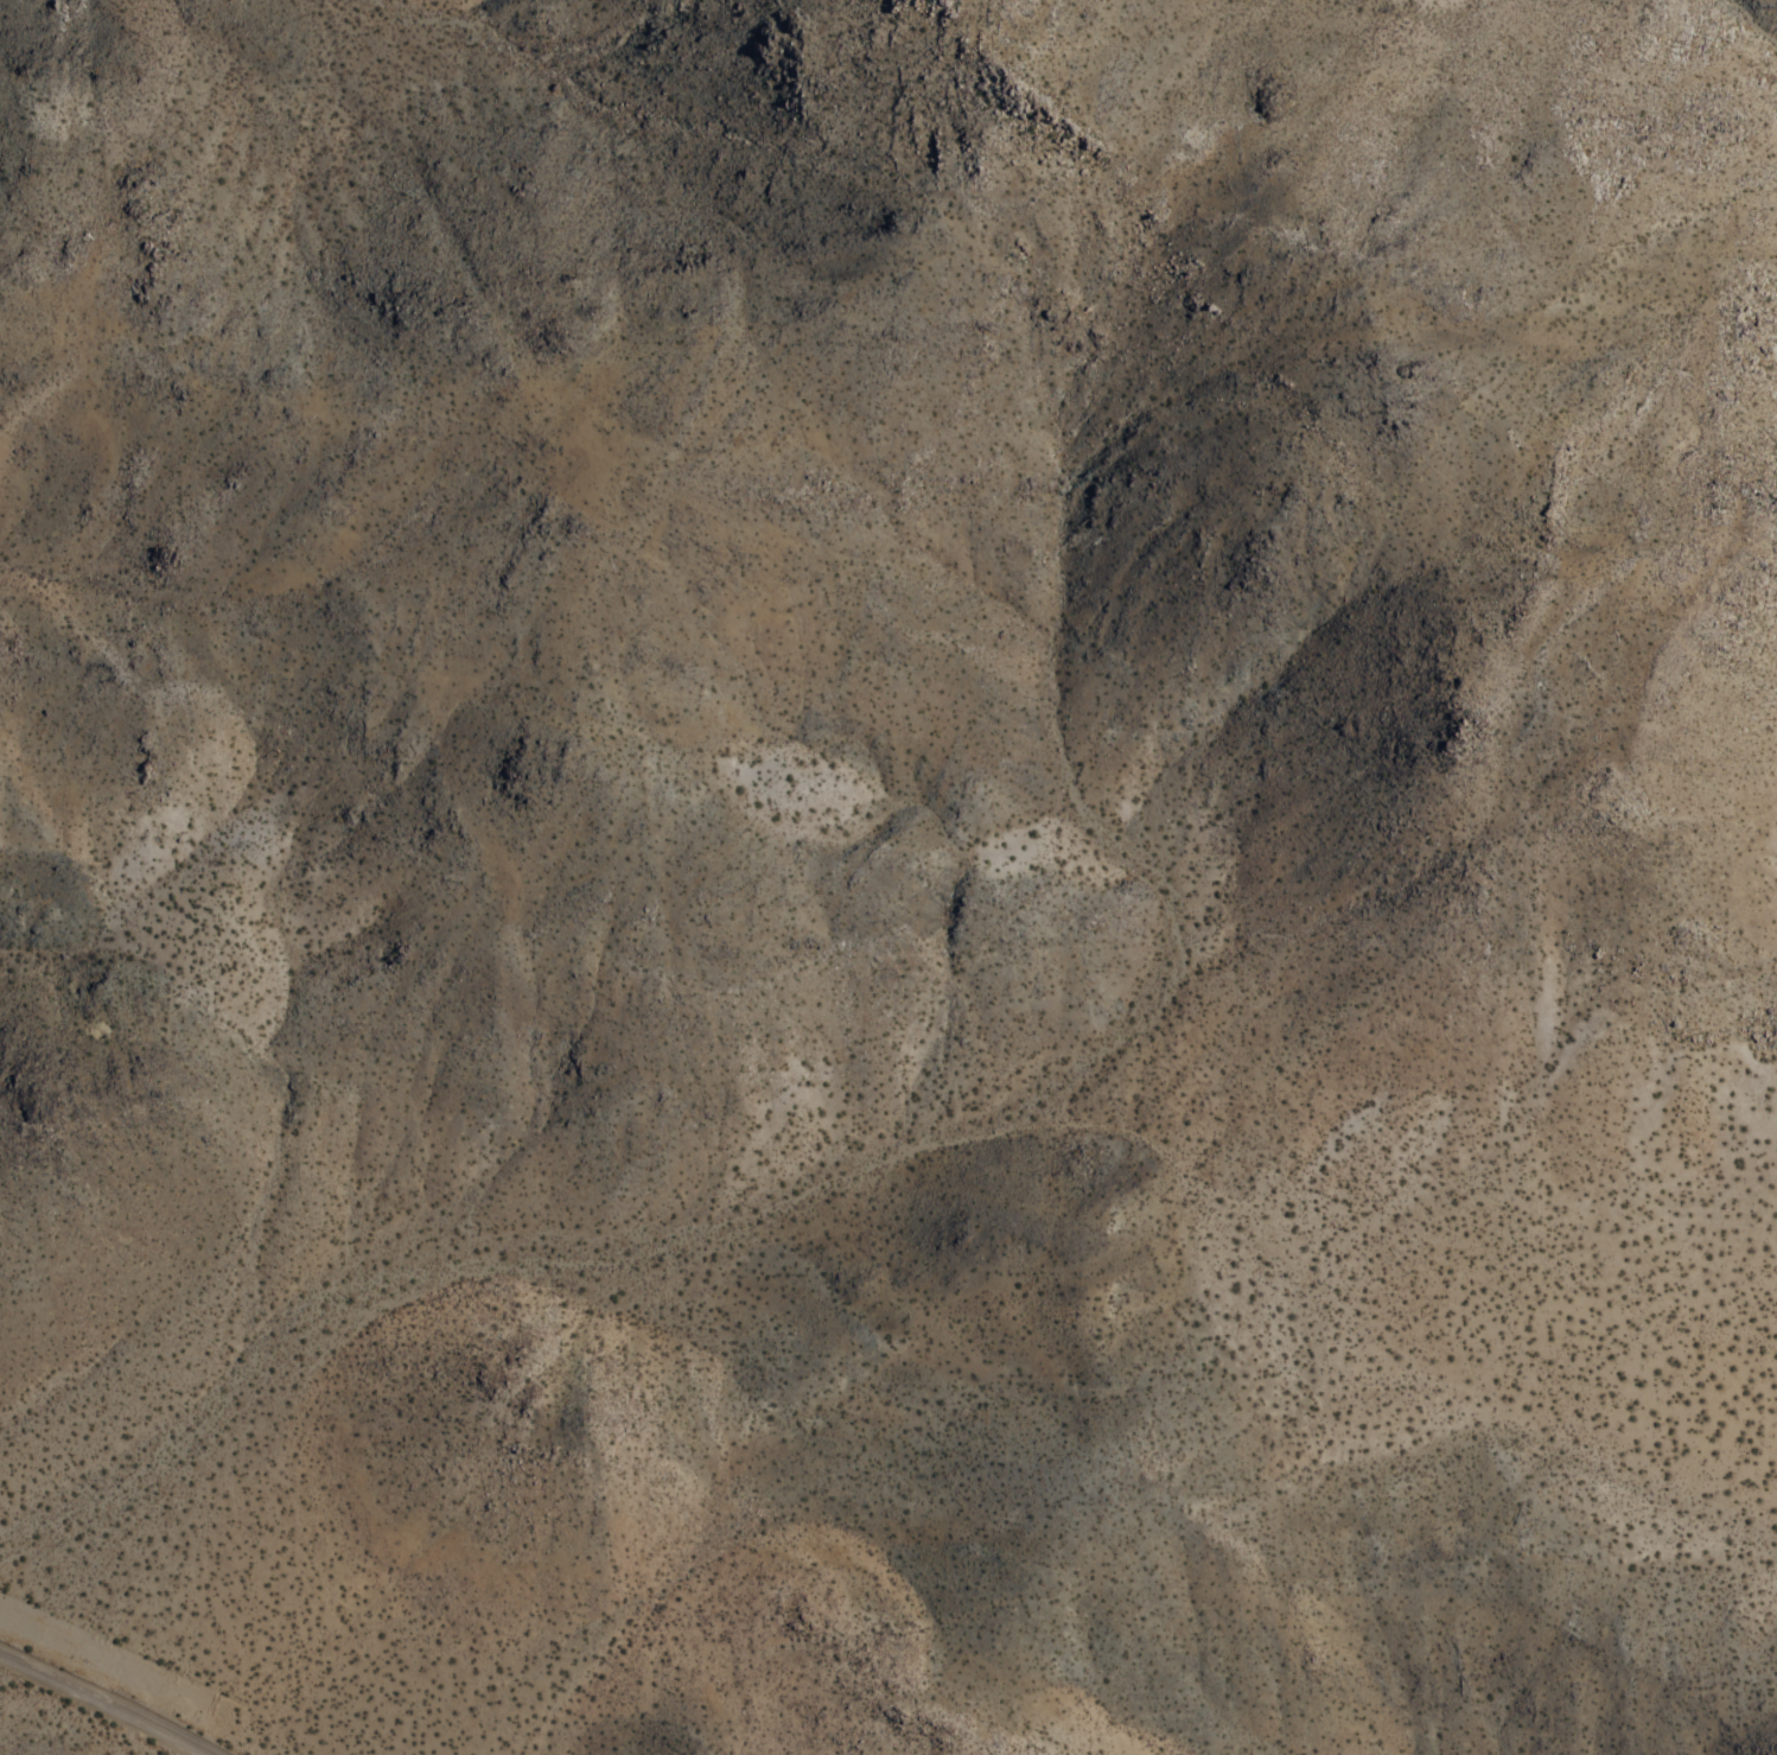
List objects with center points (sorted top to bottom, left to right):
road: (106, 1703)

